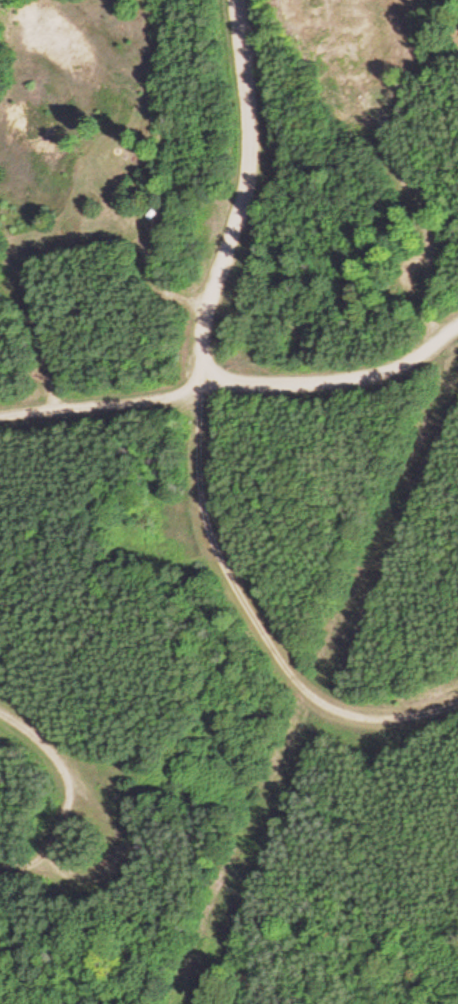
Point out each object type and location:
road: (337, 382)
road: (99, 407)
road: (201, 436)
road: (42, 744)
road: (99, 877)

